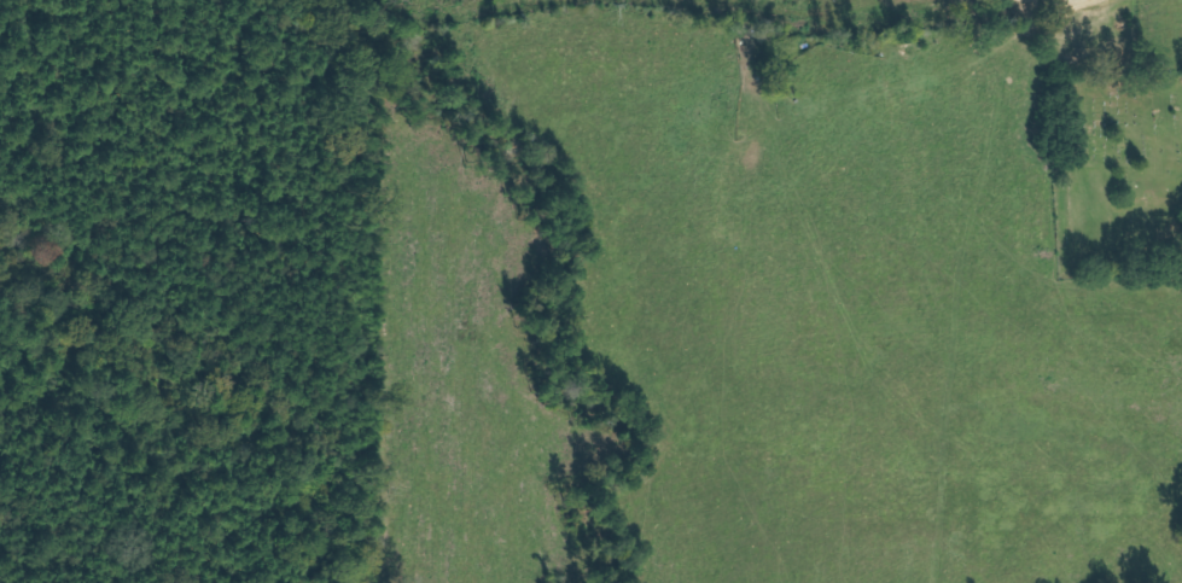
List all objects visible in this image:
park: (1119, 167)

